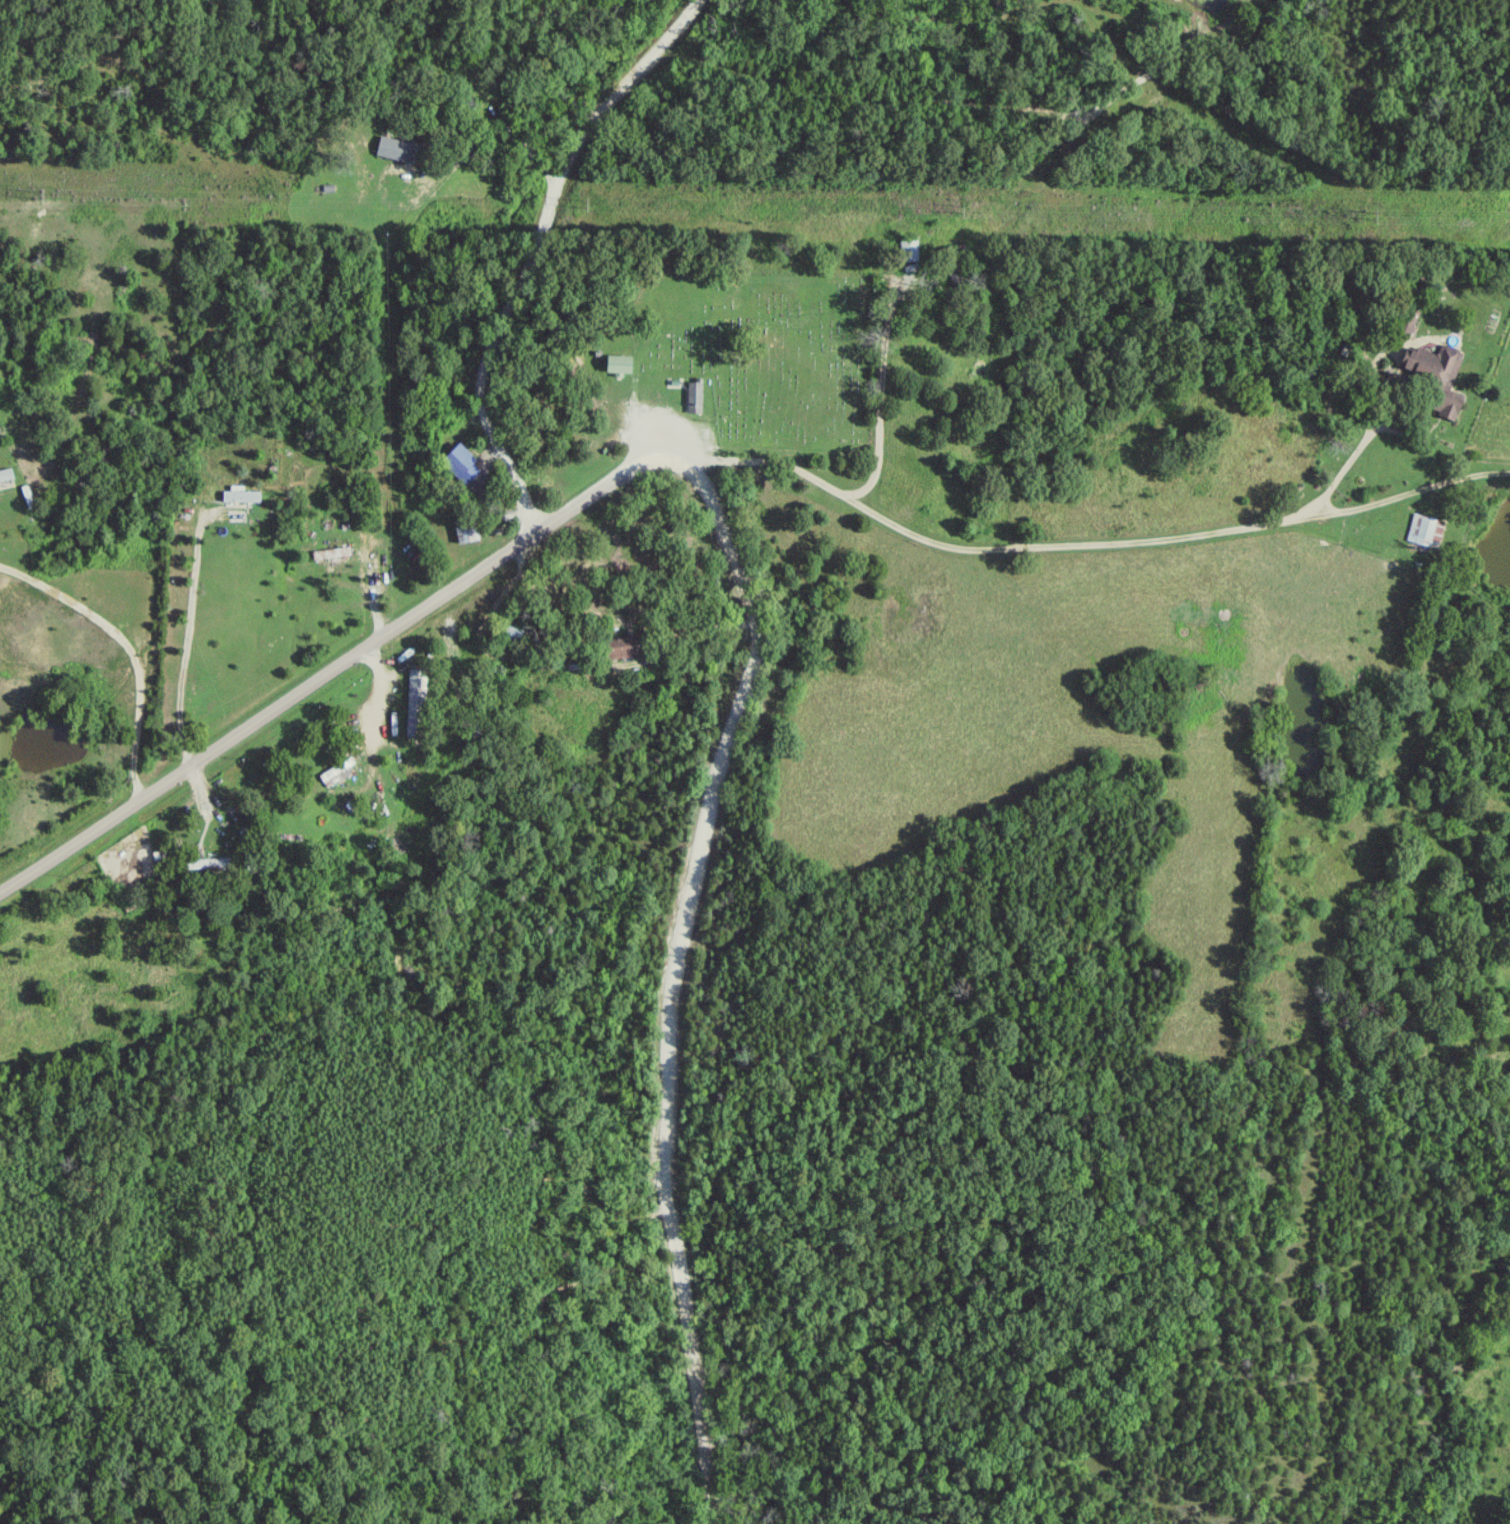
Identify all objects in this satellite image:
building: (402, 150)
building: (912, 248)
road: (526, 253)
park: (765, 356)
building: (1436, 364)
building: (623, 365)
building: (697, 398)
road: (882, 403)
building: (1455, 406)
building: (464, 463)
building: (7, 475)
road: (801, 476)
building: (243, 495)
road: (1411, 498)
building: (1428, 531)
building: (469, 533)
road: (1170, 539)
building: (334, 554)
road: (128, 645)
building: (628, 647)
road: (333, 668)
building: (419, 704)
building: (340, 773)
road: (672, 974)

